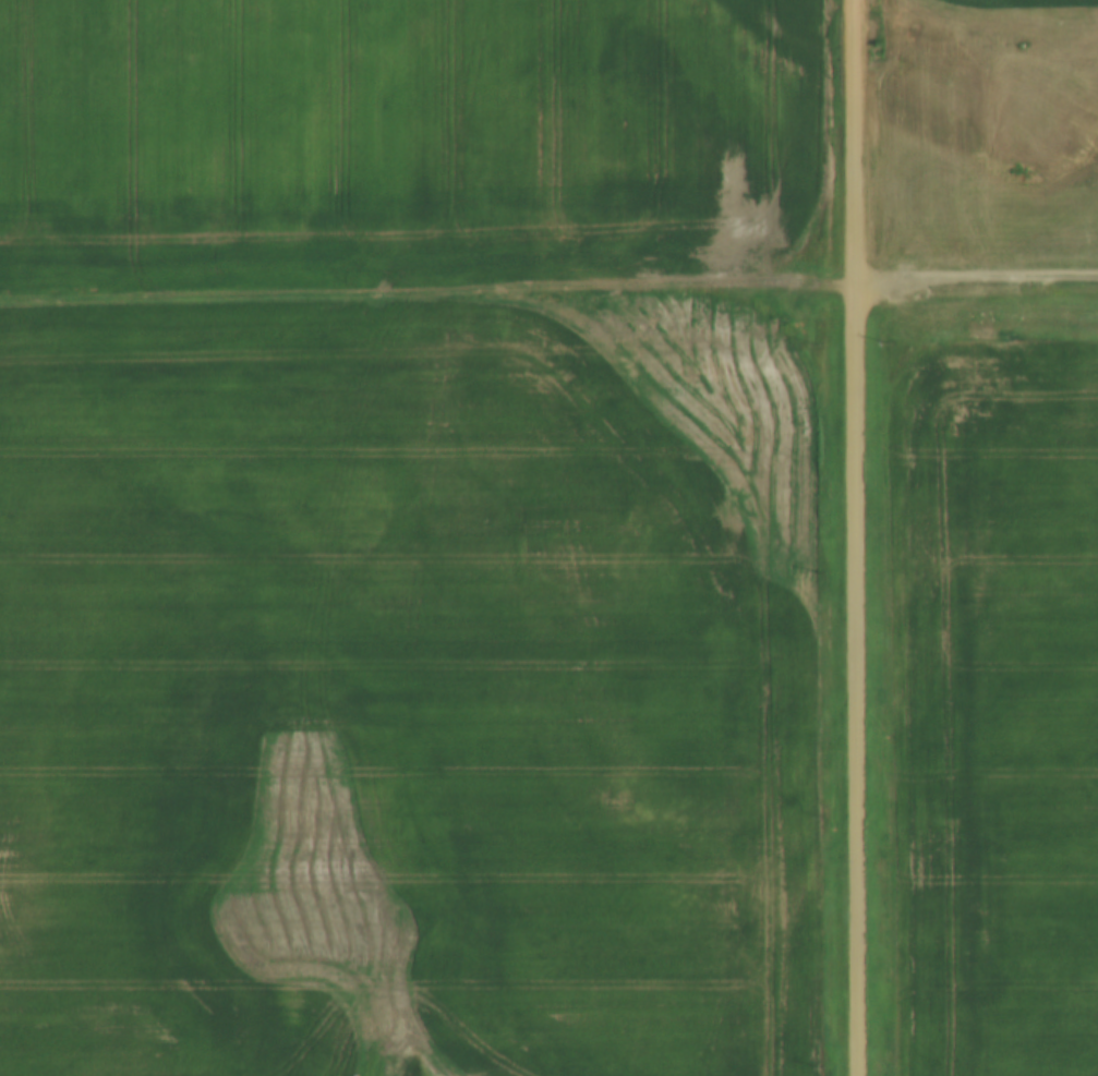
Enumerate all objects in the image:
road: (977, 288)
road: (429, 291)
road: (856, 537)

